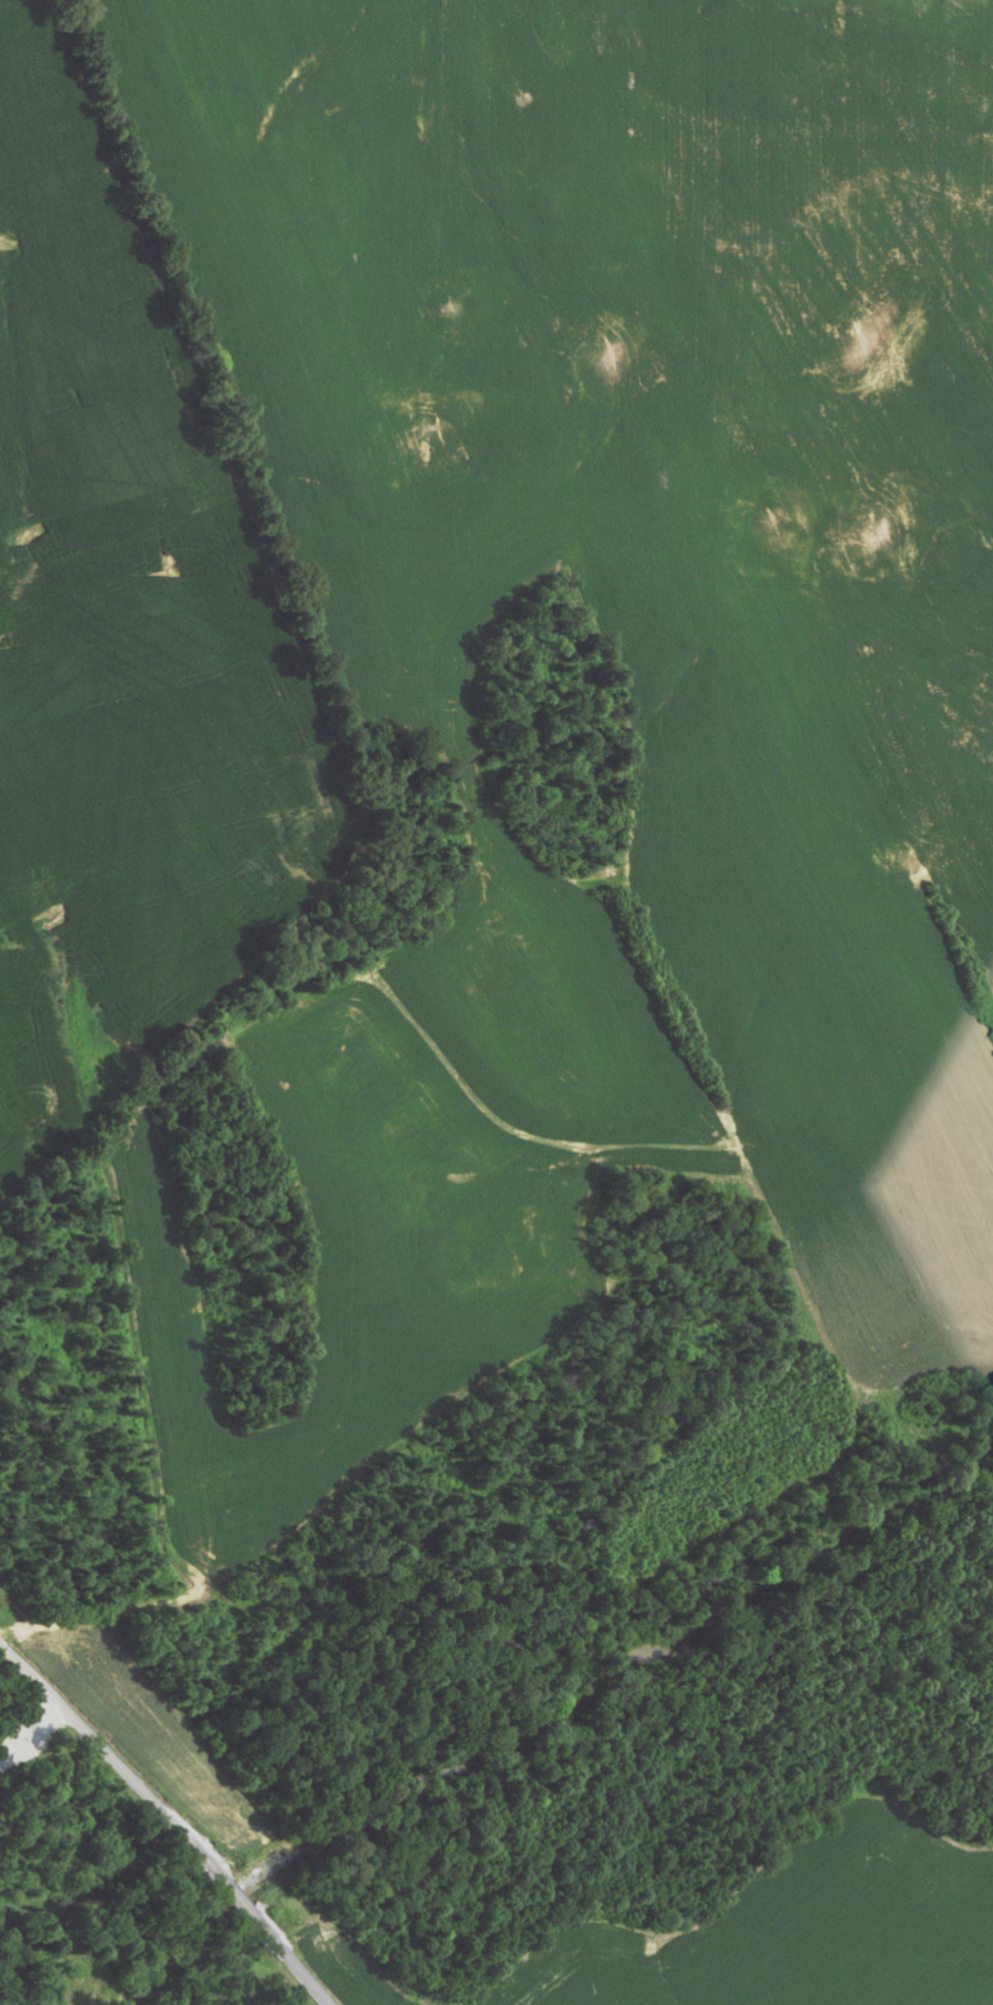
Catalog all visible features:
road: (114, 1762)
road: (237, 1897)
road: (288, 1957)

